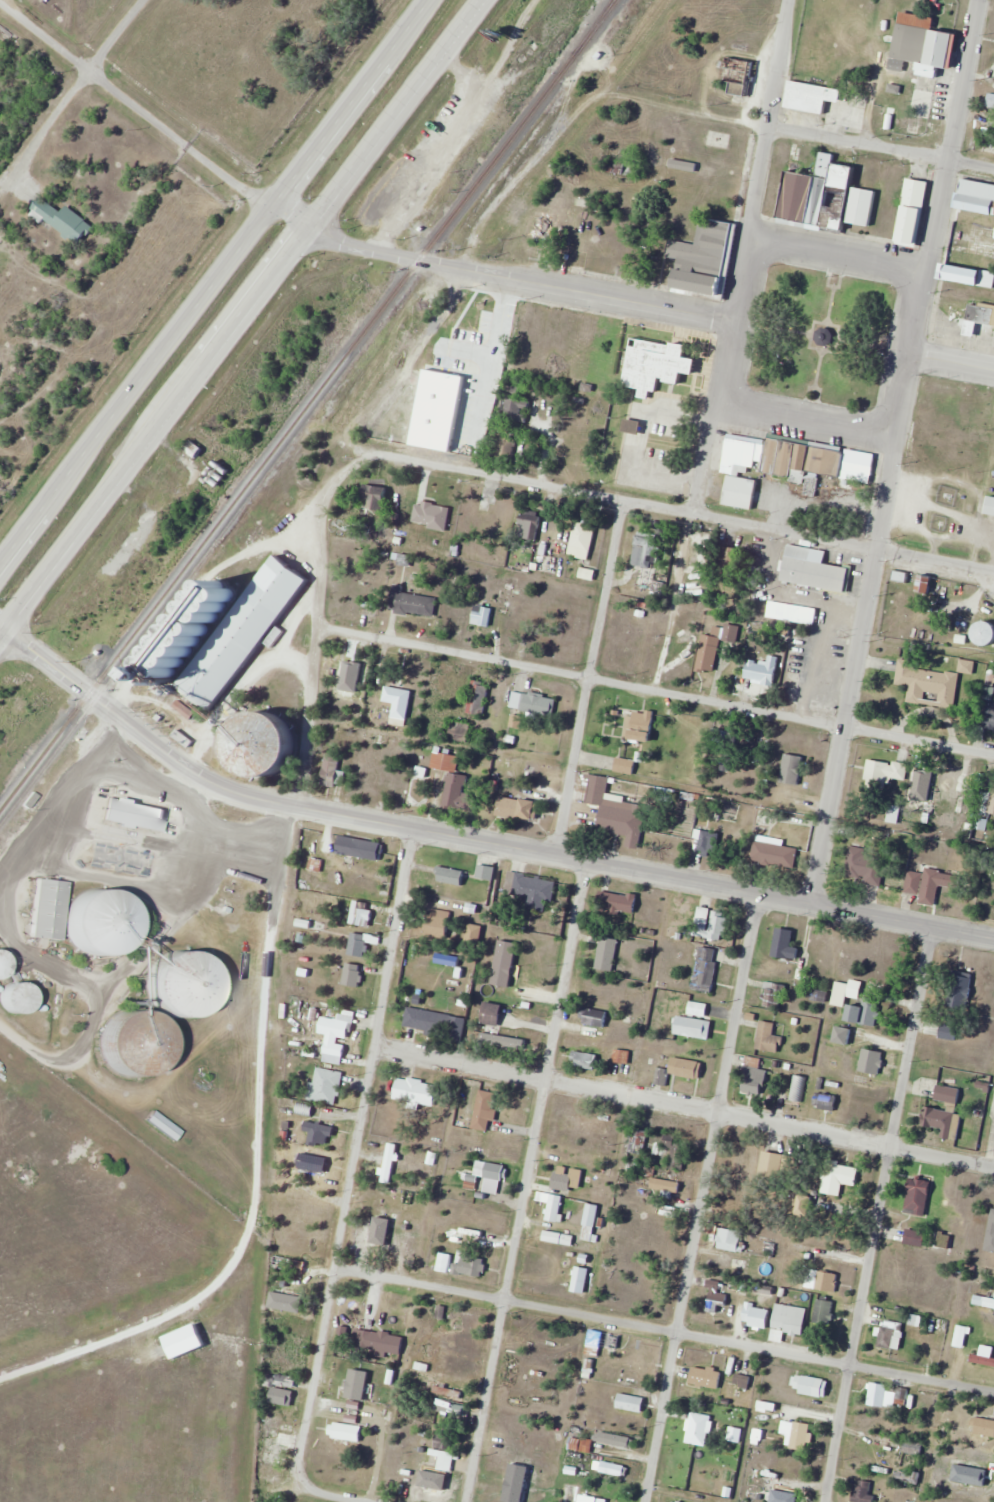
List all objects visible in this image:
road: (2, 3)
railway: (602, 15)
building: (936, 50)
building: (738, 76)
road: (72, 87)
building: (810, 97)
road: (137, 106)
building: (989, 111)
road: (771, 117)
building: (887, 120)
road: (807, 132)
road: (950, 133)
building: (819, 193)
building: (976, 196)
building: (910, 211)
building: (62, 220)
building: (541, 229)
road: (838, 251)
building: (701, 256)
building: (966, 269)
road: (496, 275)
road: (213, 279)
road: (742, 279)
road: (918, 310)
road: (255, 315)
building: (480, 316)
building: (978, 318)
building: (825, 336)
road: (952, 359)
road: (727, 362)
building: (656, 364)
building: (938, 391)
road: (902, 393)
railway: (307, 404)
building: (514, 409)
road: (807, 417)
building: (632, 425)
building: (744, 457)
road: (710, 458)
building: (801, 459)
building: (857, 465)
building: (811, 486)
building: (740, 491)
building: (374, 497)
building: (987, 506)
road: (675, 510)
building: (476, 518)
building: (529, 524)
building: (342, 527)
building: (239, 532)
building: (583, 548)
building: (644, 550)
building: (812, 569)
building: (893, 577)
building: (924, 583)
railway: (179, 589)
building: (224, 593)
building: (414, 604)
building: (801, 614)
building: (481, 615)
building: (242, 630)
building: (985, 632)
road: (5, 638)
building: (708, 653)
road: (851, 668)
building: (762, 670)
building: (156, 674)
building: (349, 678)
road: (592, 678)
building: (928, 684)
road: (657, 690)
building: (477, 698)
building: (397, 702)
building: (532, 703)
building: (987, 707)
building: (188, 709)
road: (311, 715)
building: (641, 726)
building: (258, 744)
building: (443, 761)
building: (786, 762)
building: (624, 766)
building: (330, 771)
building: (886, 772)
building: (920, 778)
building: (949, 783)
building: (458, 793)
road: (58, 794)
building: (985, 802)
building: (517, 808)
building: (614, 809)
building: (134, 813)
road: (471, 838)
building: (707, 841)
building: (360, 848)
building: (773, 852)
building: (864, 866)
building: (449, 876)
building: (928, 886)
building: (531, 890)
building: (616, 902)
building: (41, 910)
building: (361, 912)
building: (96, 922)
building: (438, 924)
building: (717, 925)
building: (361, 943)
building: (785, 944)
building: (607, 954)
building: (505, 963)
building: (2, 966)
building: (429, 969)
building: (705, 969)
building: (352, 974)
building: (179, 985)
building: (959, 991)
building: (845, 992)
building: (773, 995)
building: (819, 995)
building: (10, 999)
building: (491, 1012)
building: (864, 1012)
building: (594, 1021)
building: (419, 1024)
building: (692, 1027)
building: (948, 1031)
building: (337, 1034)
building: (842, 1035)
building: (768, 1038)
building: (503, 1040)
building: (131, 1042)
building: (621, 1056)
building: (584, 1059)
building: (871, 1061)
building: (679, 1070)
building: (752, 1073)
building: (324, 1085)
building: (797, 1088)
building: (415, 1091)
building: (828, 1101)
road: (685, 1106)
building: (486, 1109)
building: (940, 1118)
building: (583, 1125)
building: (319, 1135)
building: (639, 1141)
building: (673, 1151)
road: (356, 1157)
building: (312, 1162)
building: (383, 1164)
building: (773, 1164)
road: (259, 1166)
building: (491, 1170)
building: (566, 1178)
building: (838, 1178)
road: (529, 1181)
building: (665, 1185)
road: (701, 1197)
building: (918, 1197)
road: (875, 1214)
building: (590, 1222)
building: (456, 1235)
building: (990, 1235)
building: (364, 1237)
building: (915, 1238)
building: (729, 1239)
building: (407, 1240)
building: (943, 1240)
building: (282, 1260)
building: (471, 1266)
building: (580, 1280)
building: (826, 1281)
building: (716, 1298)
building: (983, 1302)
building: (288, 1303)
building: (823, 1313)
building: (756, 1316)
building: (789, 1319)
building: (465, 1322)
road: (664, 1329)
building: (889, 1335)
building: (960, 1336)
building: (377, 1341)
building: (602, 1342)
building: (540, 1355)
building: (982, 1360)
building: (636, 1361)
building: (705, 1378)
building: (742, 1381)
building: (814, 1386)
building: (281, 1389)
building: (447, 1392)
building: (877, 1396)
building: (900, 1397)
building: (630, 1403)
building: (985, 1427)
building: (699, 1429)
building: (346, 1432)
building: (797, 1435)
building: (615, 1440)
building: (580, 1445)
building: (274, 1446)
building: (909, 1447)
building: (439, 1461)
building: (980, 1476)
building: (908, 1477)
building: (864, 1491)
road: (337, 1495)
building: (782, 1498)
building: (591, 1499)
building: (674, 1501)

